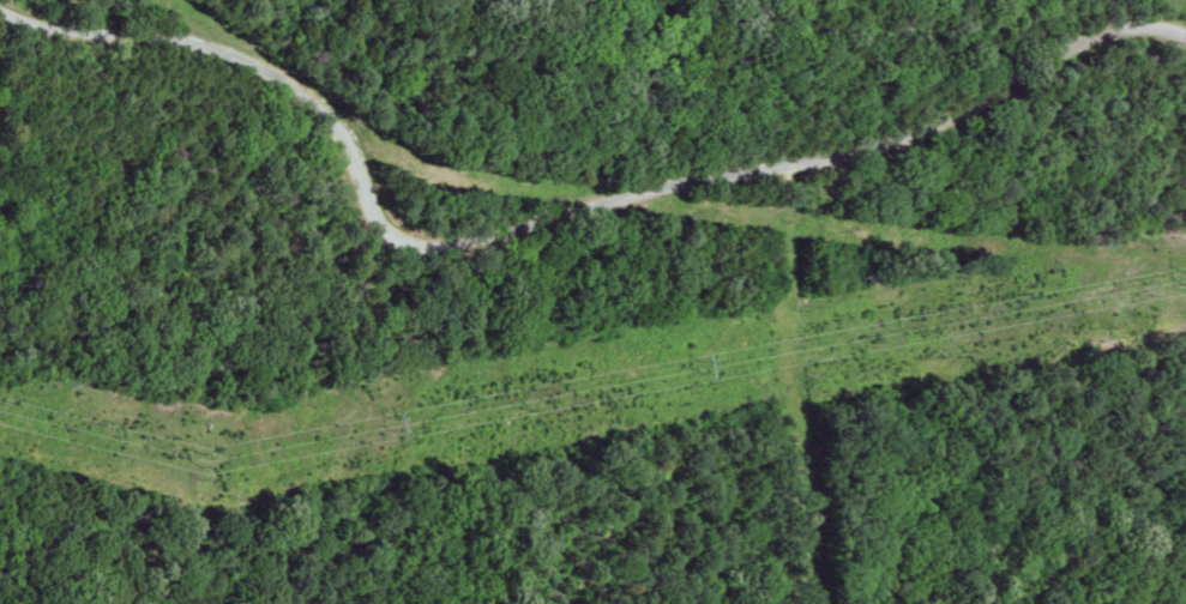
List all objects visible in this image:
road: (290, 50)
road: (819, 158)
road: (353, 416)

